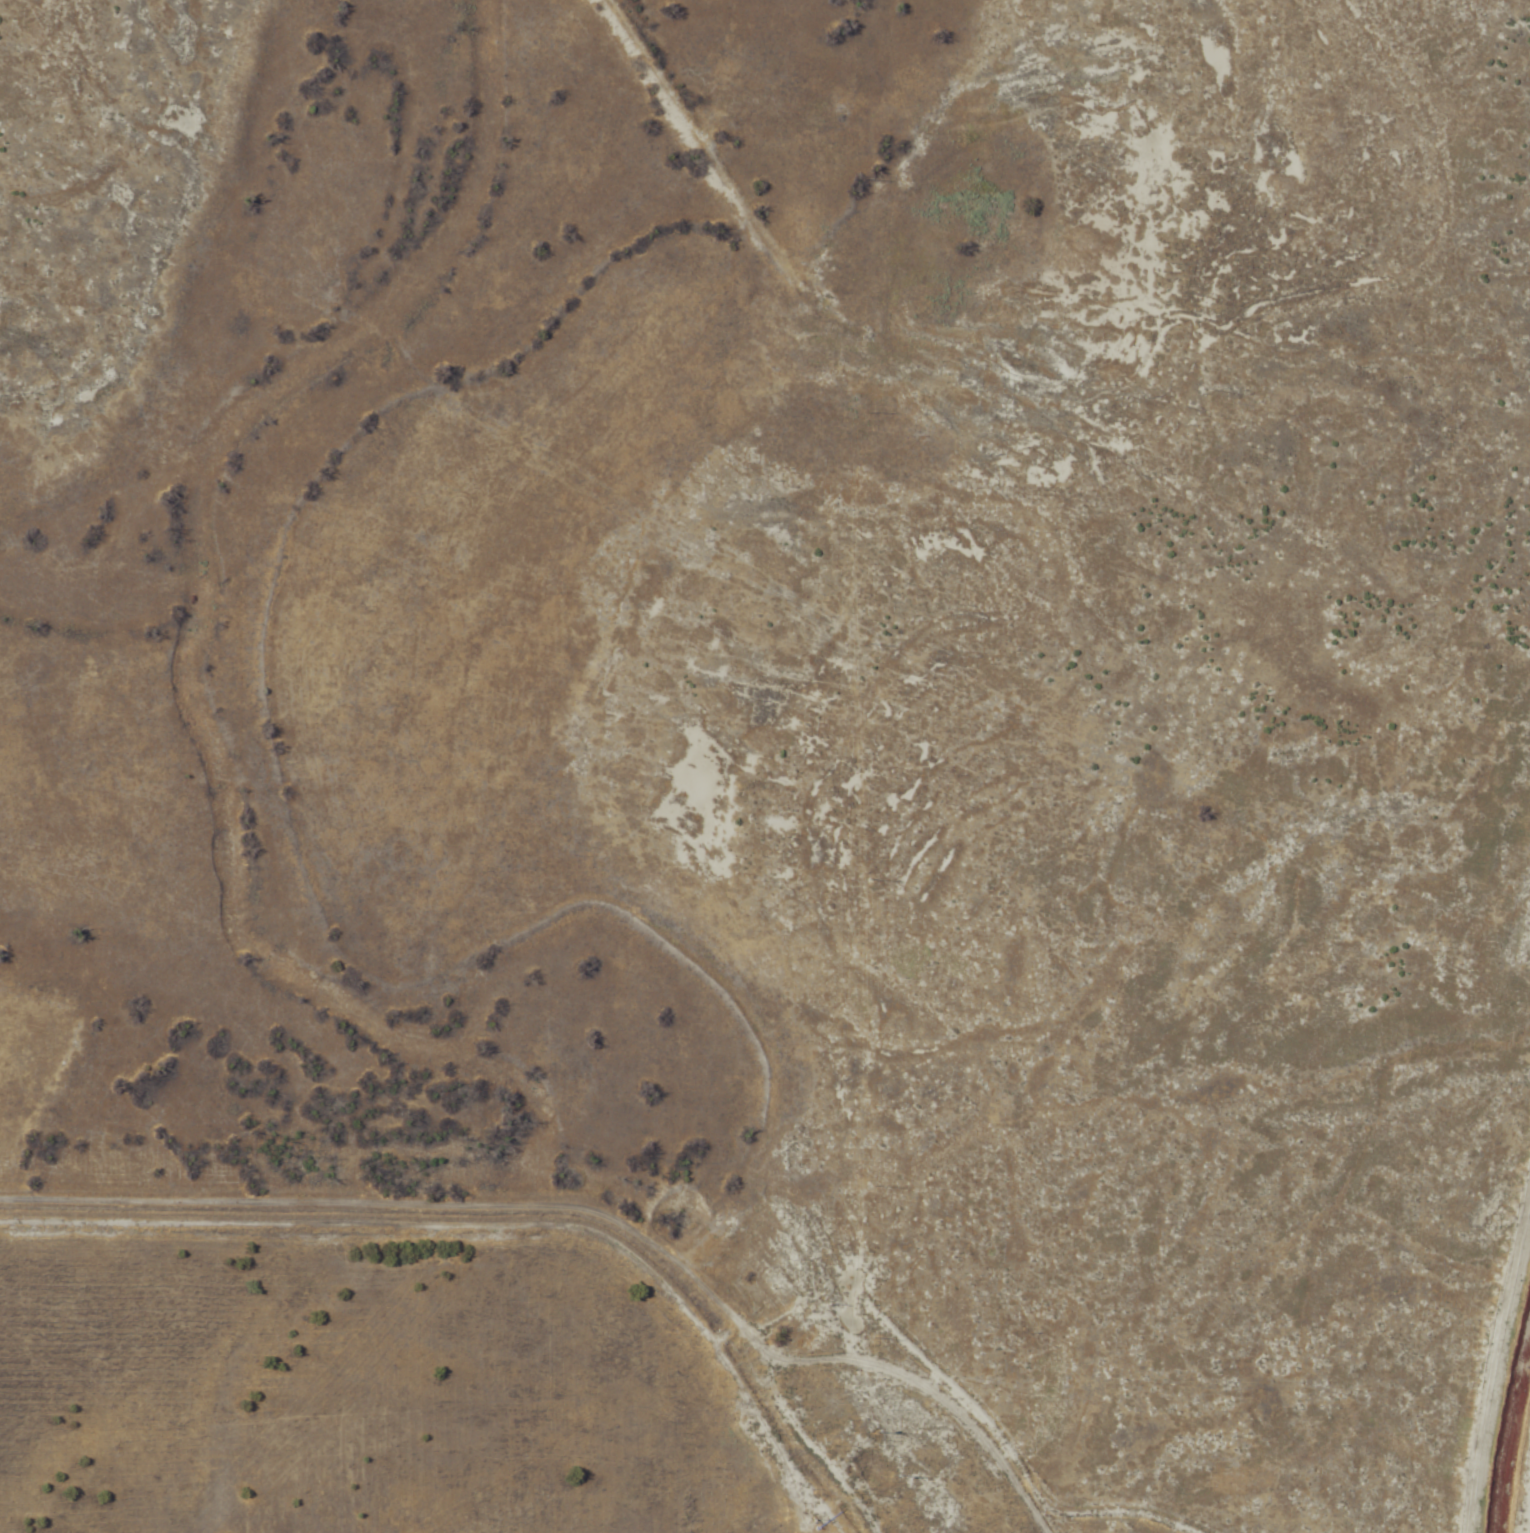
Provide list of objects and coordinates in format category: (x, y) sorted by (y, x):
road: (1220, 1273)
road: (1481, 1317)

